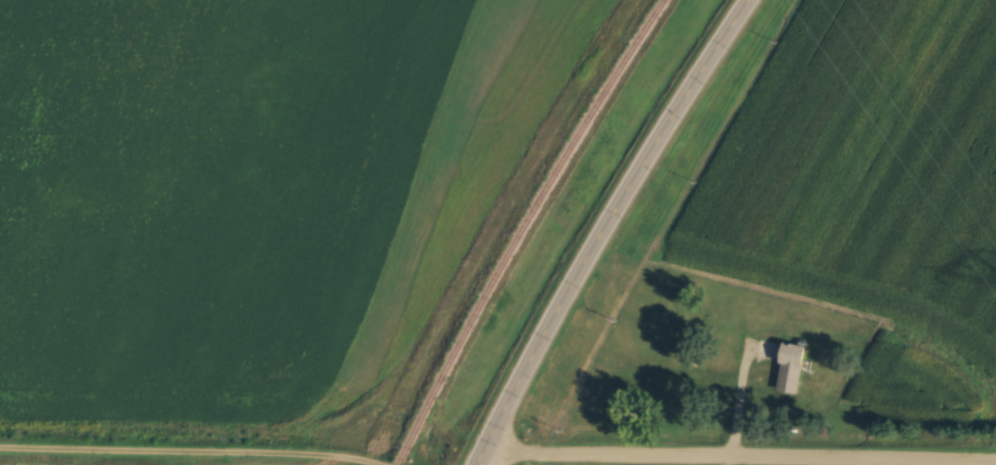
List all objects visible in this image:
railway: (517, 228)
road: (598, 228)
building: (786, 365)
road: (196, 451)
road: (737, 452)

